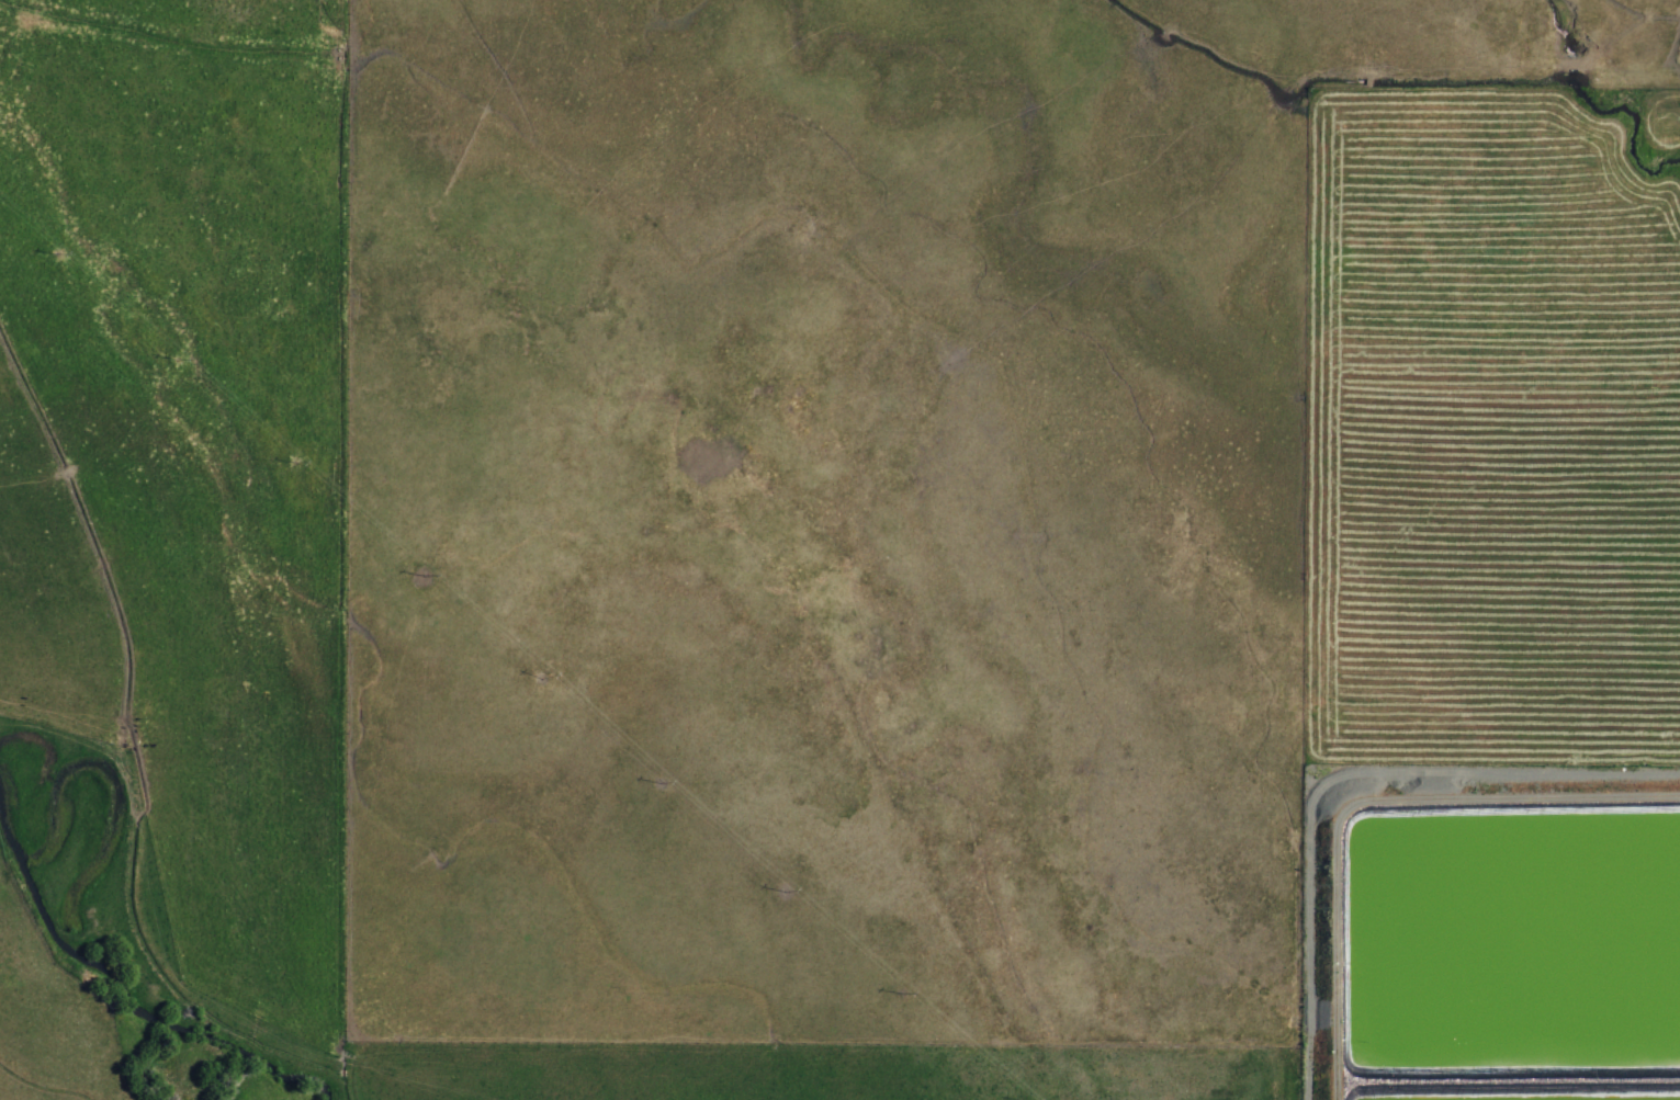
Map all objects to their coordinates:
crop: (1493, 468)
crop: (836, 506)

